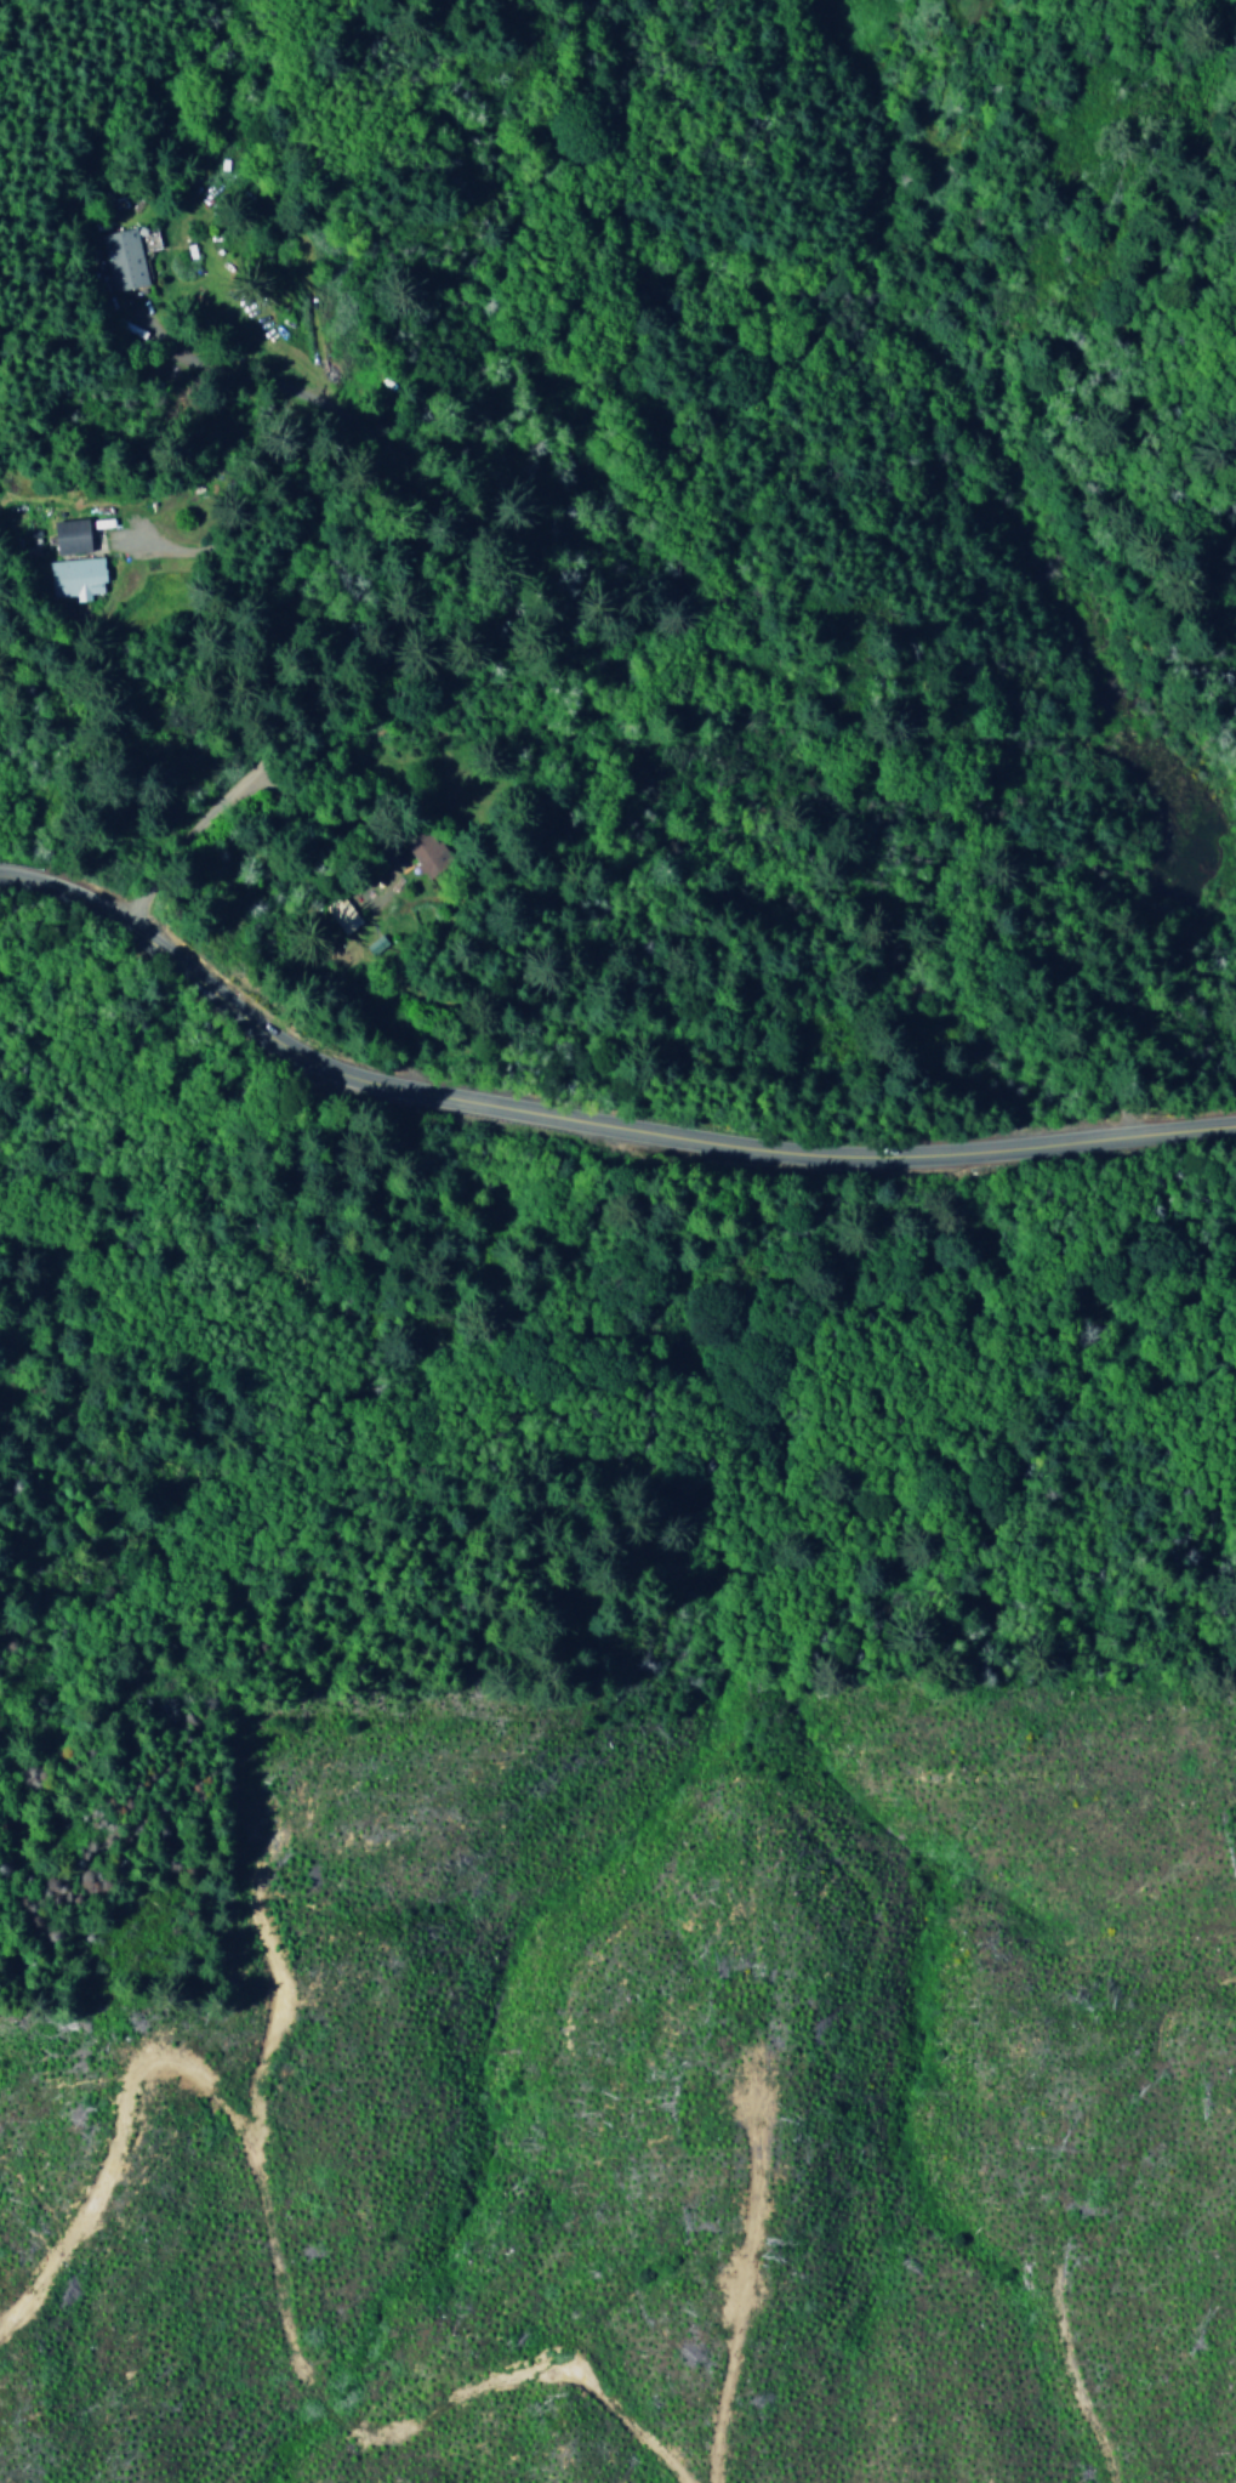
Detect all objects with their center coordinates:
building: (121, 254)
building: (72, 535)
building: (68, 581)
road: (588, 1125)

